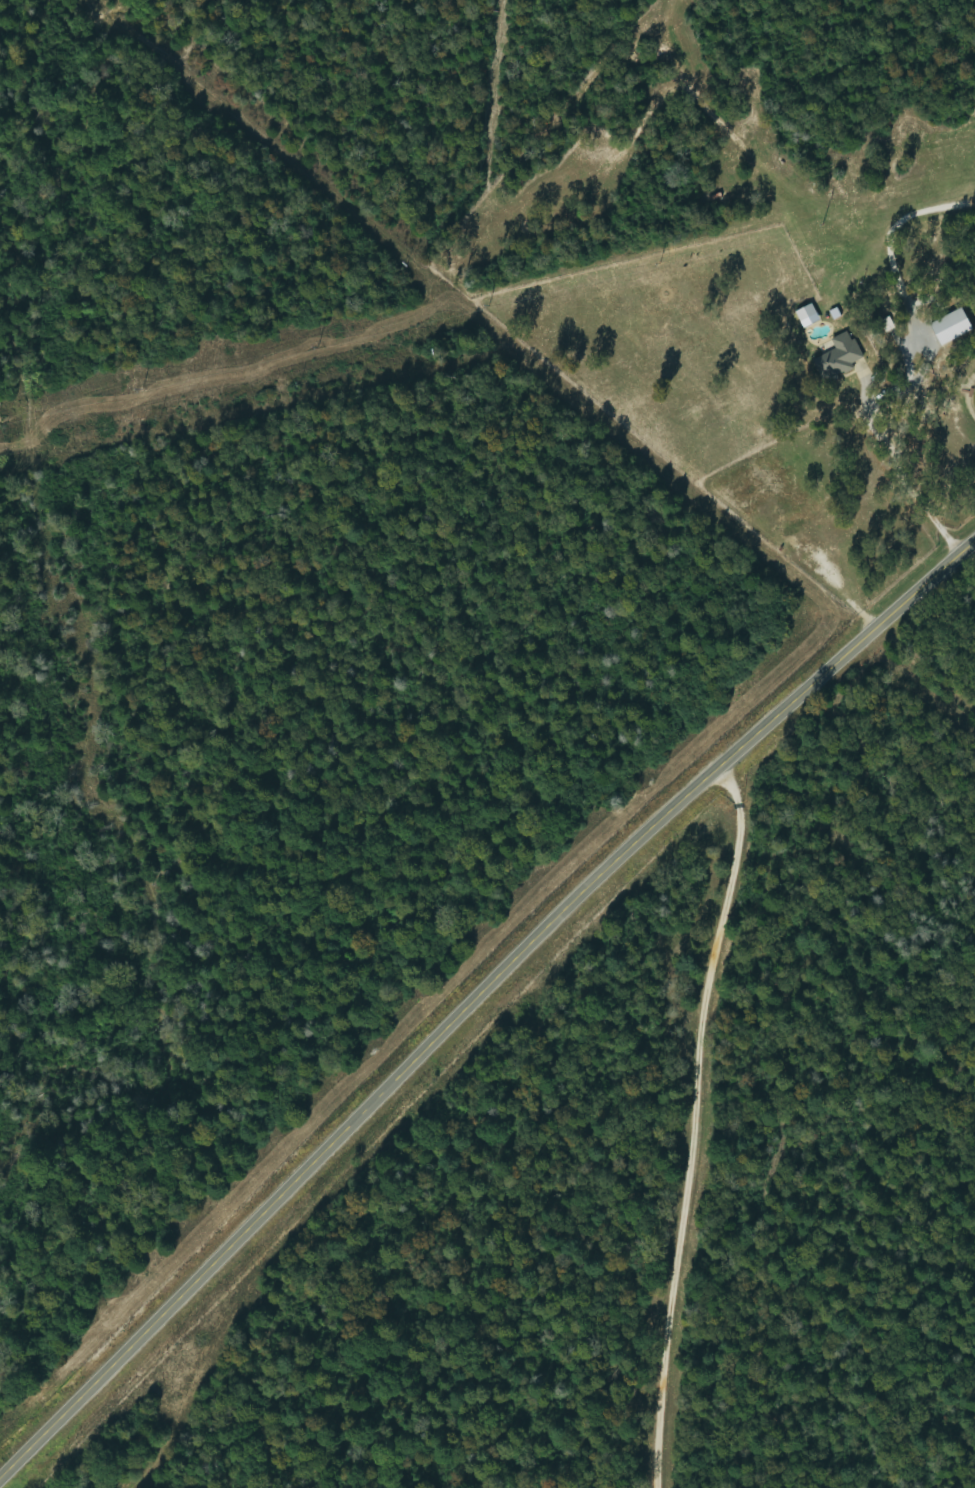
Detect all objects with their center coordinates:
building: (809, 316)
building: (955, 327)
building: (844, 358)
road: (476, 996)
road: (702, 1122)

